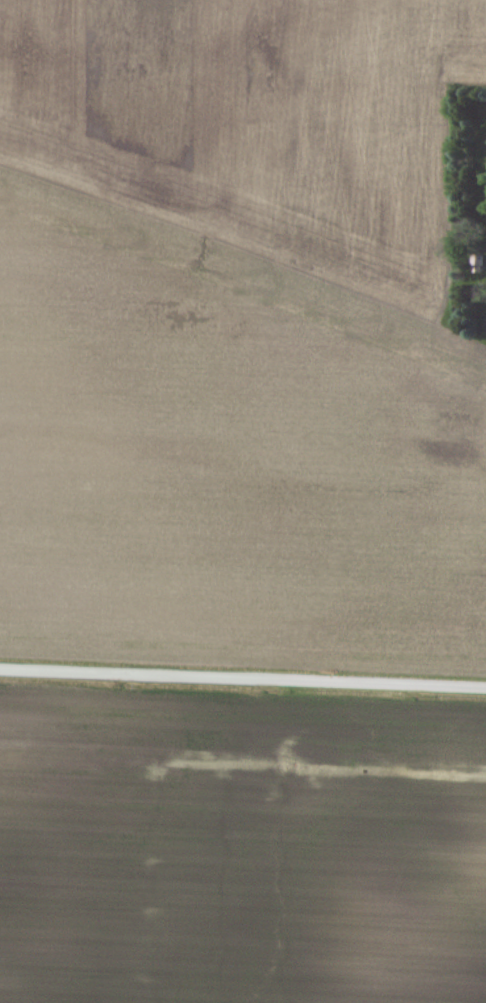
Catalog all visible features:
road: (243, 680)

